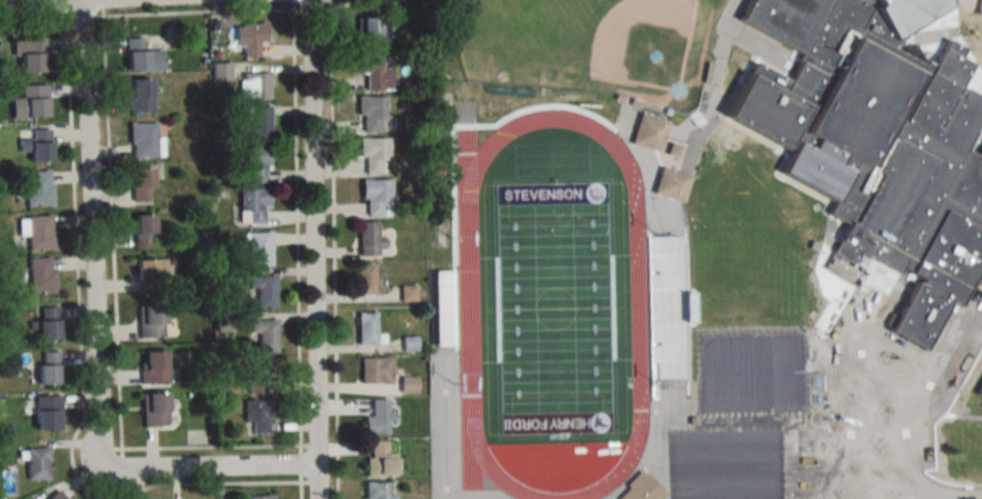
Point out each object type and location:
road: (77, 1)
road: (347, 4)
road: (103, 8)
road: (314, 8)
road: (68, 9)
road: (198, 12)
road: (85, 17)
road: (34, 19)
road: (972, 23)
building: (368, 33)
building: (248, 38)
road: (961, 38)
park: (589, 48)
building: (28, 55)
building: (140, 56)
building: (373, 72)
building: (252, 85)
building: (138, 94)
building: (33, 100)
building: (370, 111)
building: (257, 121)
building: (648, 130)
building: (141, 140)
building: (876, 142)
building: (36, 144)
building: (671, 149)
building: (371, 154)
building: (253, 162)
building: (669, 183)
building: (139, 184)
building: (36, 188)
building: (375, 196)
building: (251, 205)
road: (298, 225)
building: (141, 231)
building: (38, 232)
building: (368, 239)
building: (258, 248)
road: (313, 249)
road: (335, 253)
building: (40, 275)
building: (149, 275)
building: (367, 280)
building: (261, 290)
park: (556, 307)
building: (442, 308)
building: (661, 313)
track: (469, 317)
road: (117, 320)
building: (148, 321)
building: (45, 322)
building: (366, 329)
building: (263, 335)
road: (93, 336)
road: (81, 359)
building: (46, 367)
building: (152, 367)
building: (374, 369)
park: (783, 371)
park: (716, 372)
park: (750, 372)
road: (829, 372)
building: (257, 375)
building: (980, 388)
road: (869, 390)
building: (979, 400)
building: (152, 409)
building: (46, 412)
building: (258, 417)
building: (376, 418)
road: (858, 436)
building: (379, 460)
road: (301, 461)
building: (36, 463)
park: (758, 470)
park: (691, 471)
park: (725, 471)
building: (638, 487)
road: (962, 488)
road: (301, 489)
building: (376, 491)
building: (53, 496)
building: (257, 497)

